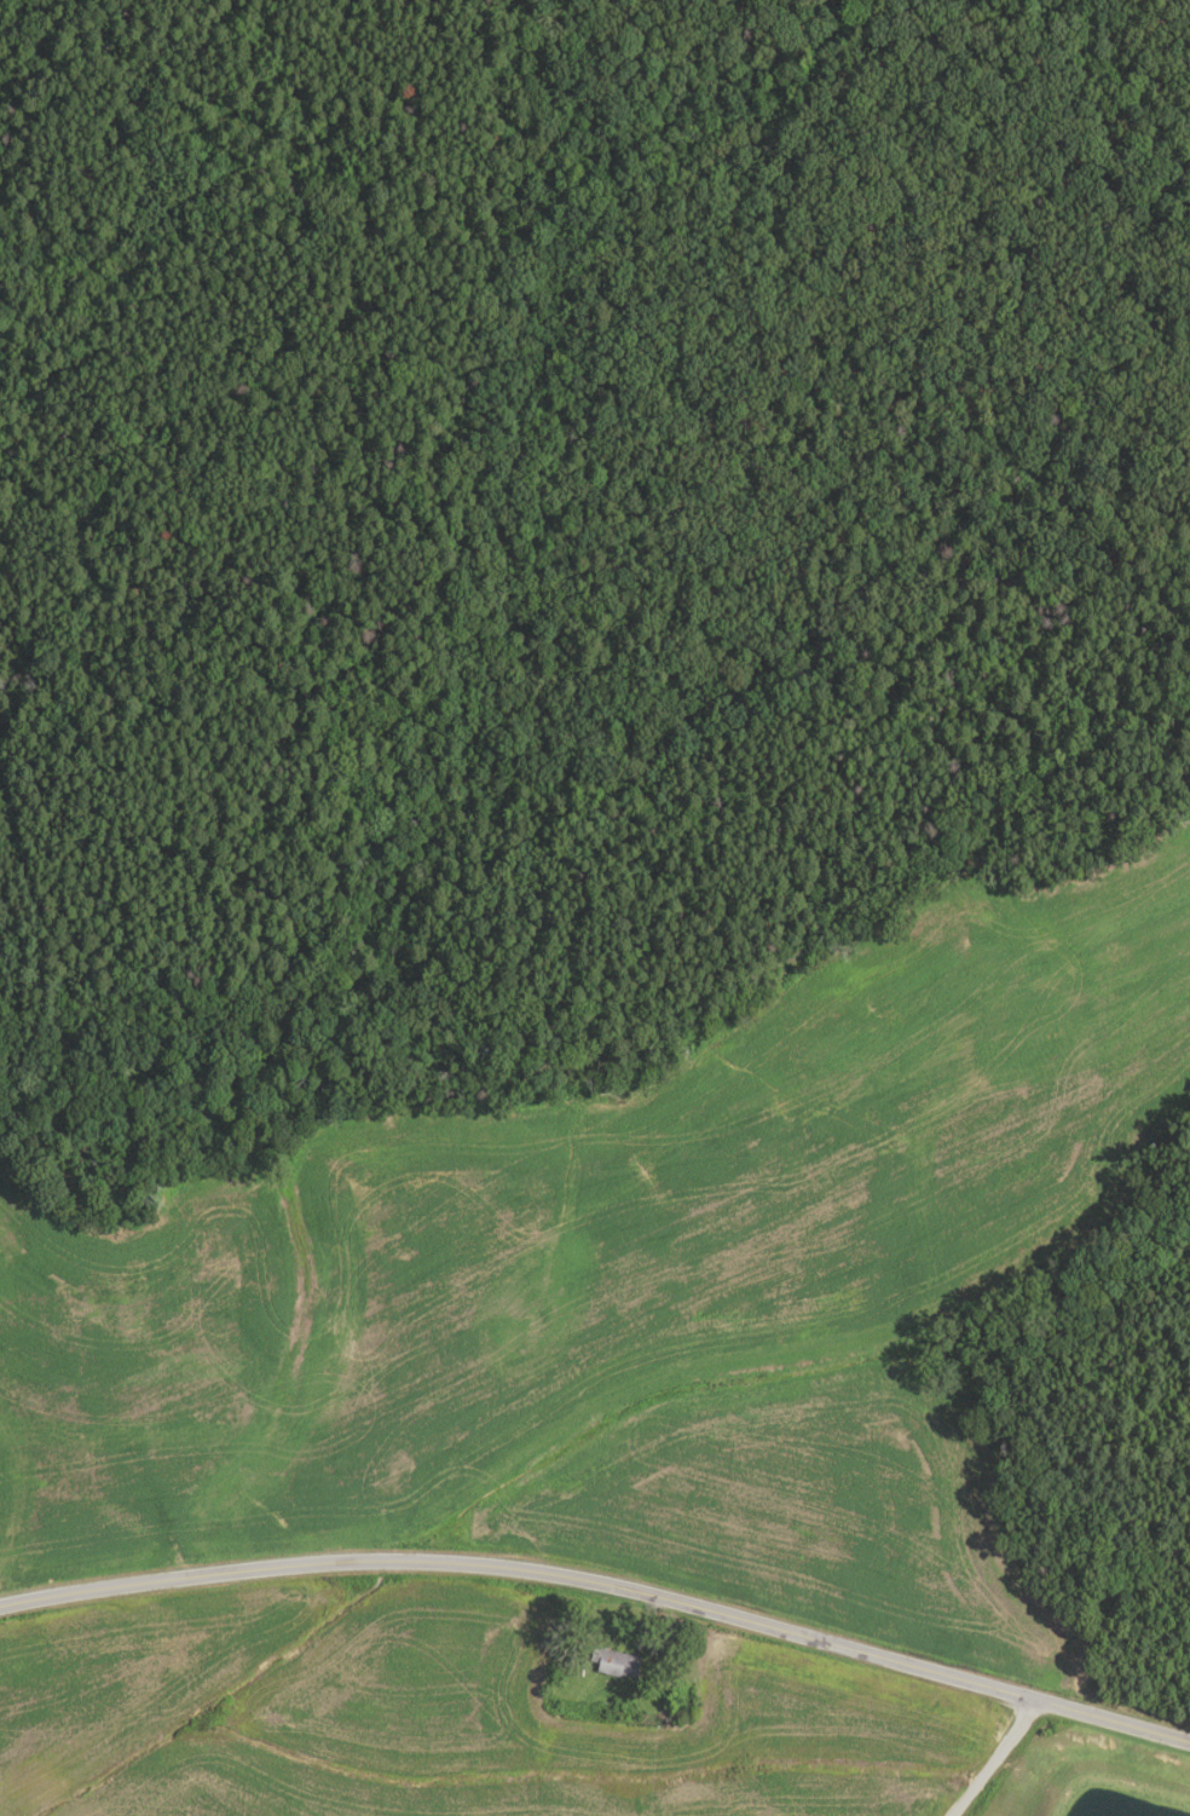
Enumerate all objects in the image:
road: (602, 1584)
building: (614, 1662)
road: (993, 1759)

